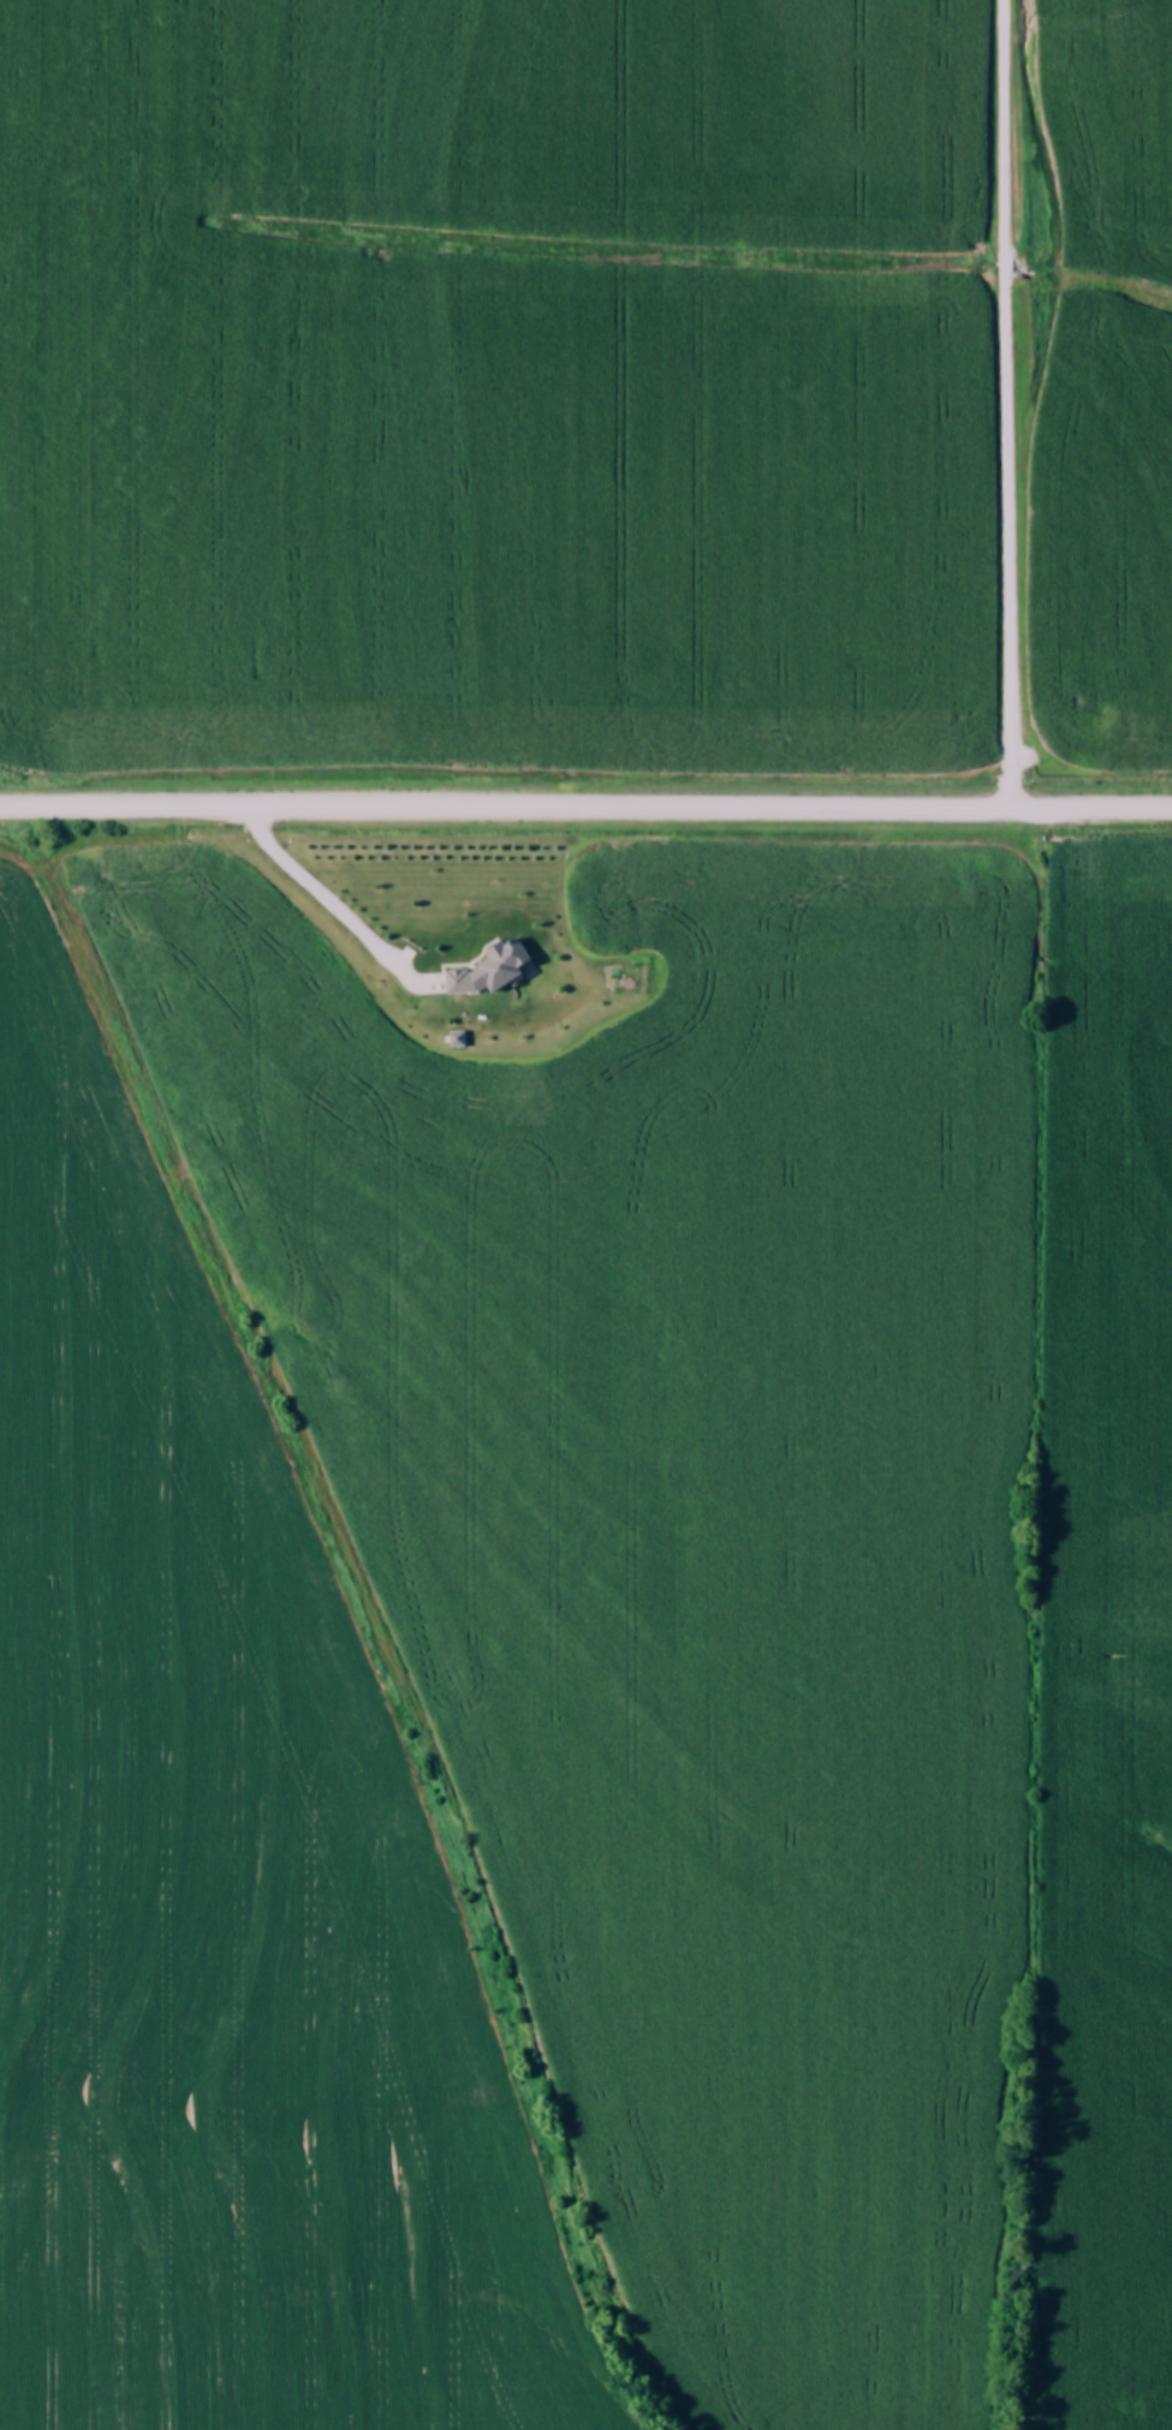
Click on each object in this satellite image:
road: (1009, 406)
road: (585, 809)
road: (331, 906)
building: (486, 971)

